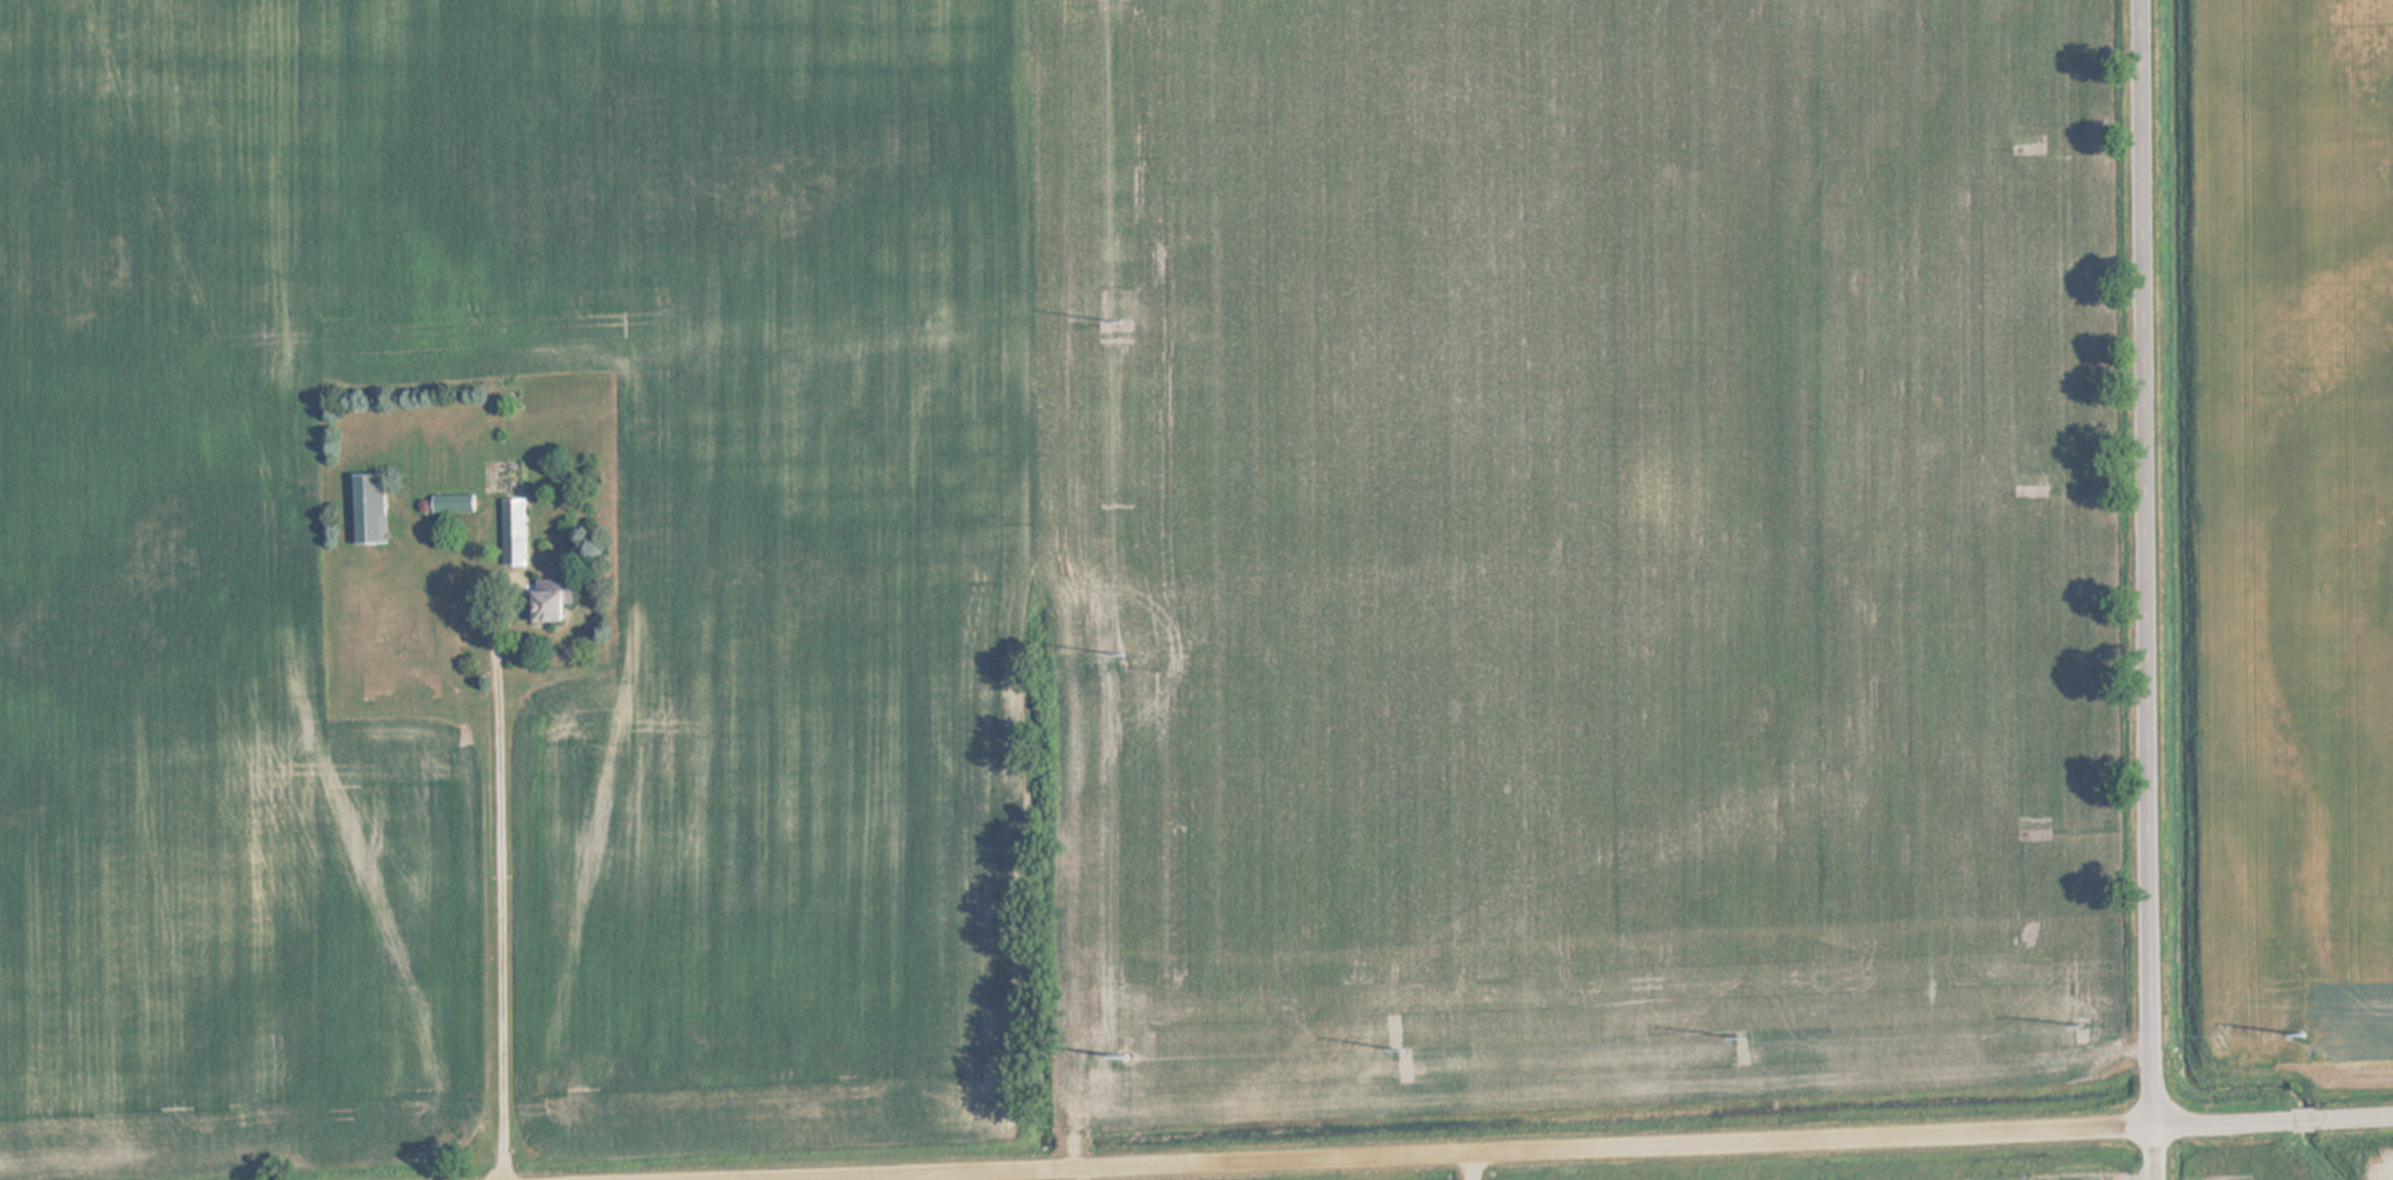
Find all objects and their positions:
power tower: (1115, 326)
building: (370, 510)
building: (511, 531)
road: (2154, 590)
building: (540, 601)
power tower: (1121, 654)
power tower: (2082, 1022)
power tower: (2305, 1030)
power tower: (1738, 1040)
power tower: (1396, 1054)
power tower: (1124, 1055)
road: (1512, 1146)
road: (1480, 1163)

